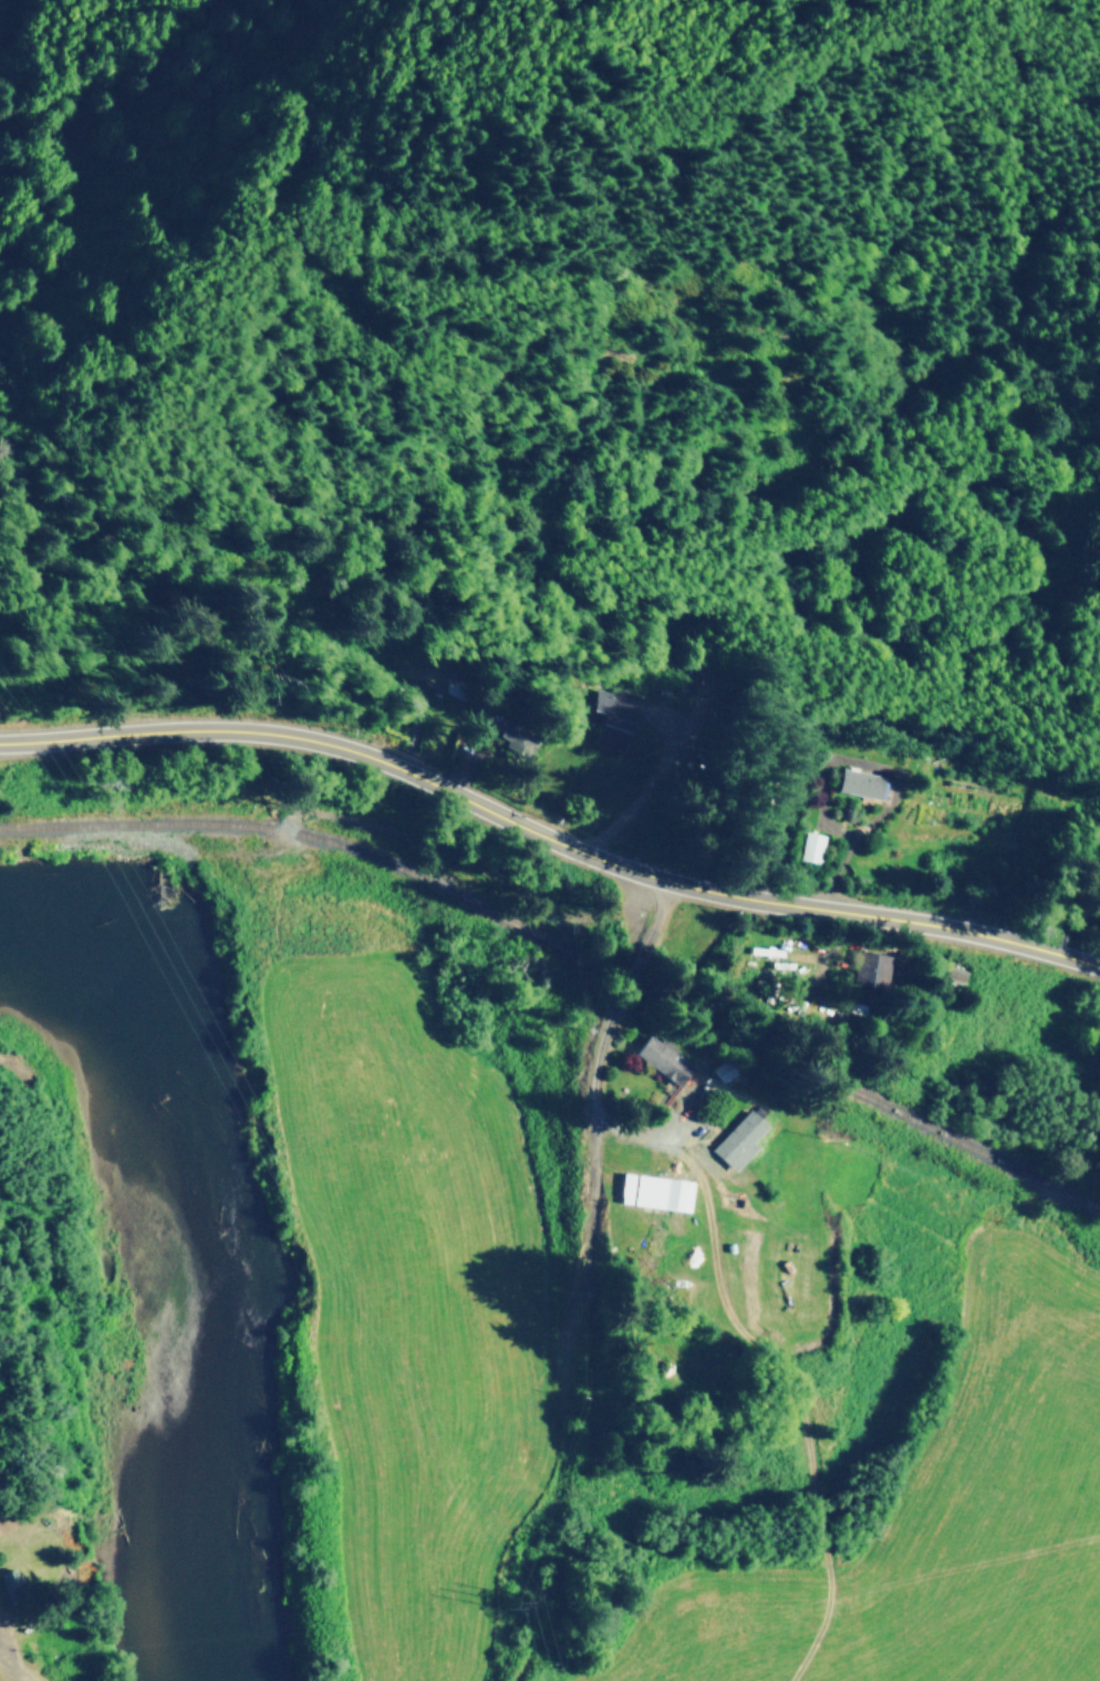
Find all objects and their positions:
road: (336, 178)
building: (611, 708)
building: (858, 782)
road: (548, 837)
building: (807, 845)
railway: (567, 950)
building: (865, 968)
road: (602, 1041)
building: (660, 1059)
building: (736, 1139)
building: (653, 1191)
river: (166, 1278)
crop: (635, 1352)
building: (8, 1579)

